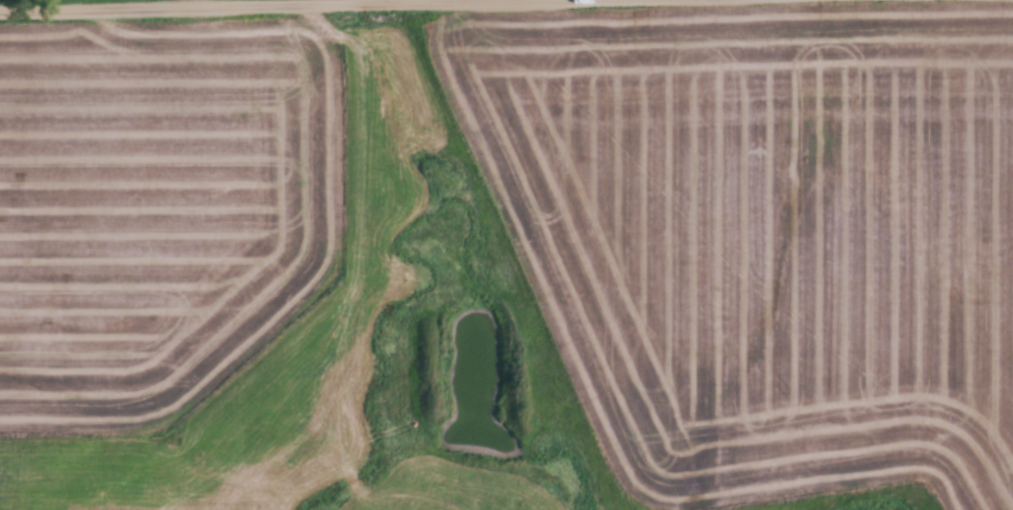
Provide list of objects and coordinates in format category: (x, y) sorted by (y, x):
road: (227, 5)
river: (493, 384)

